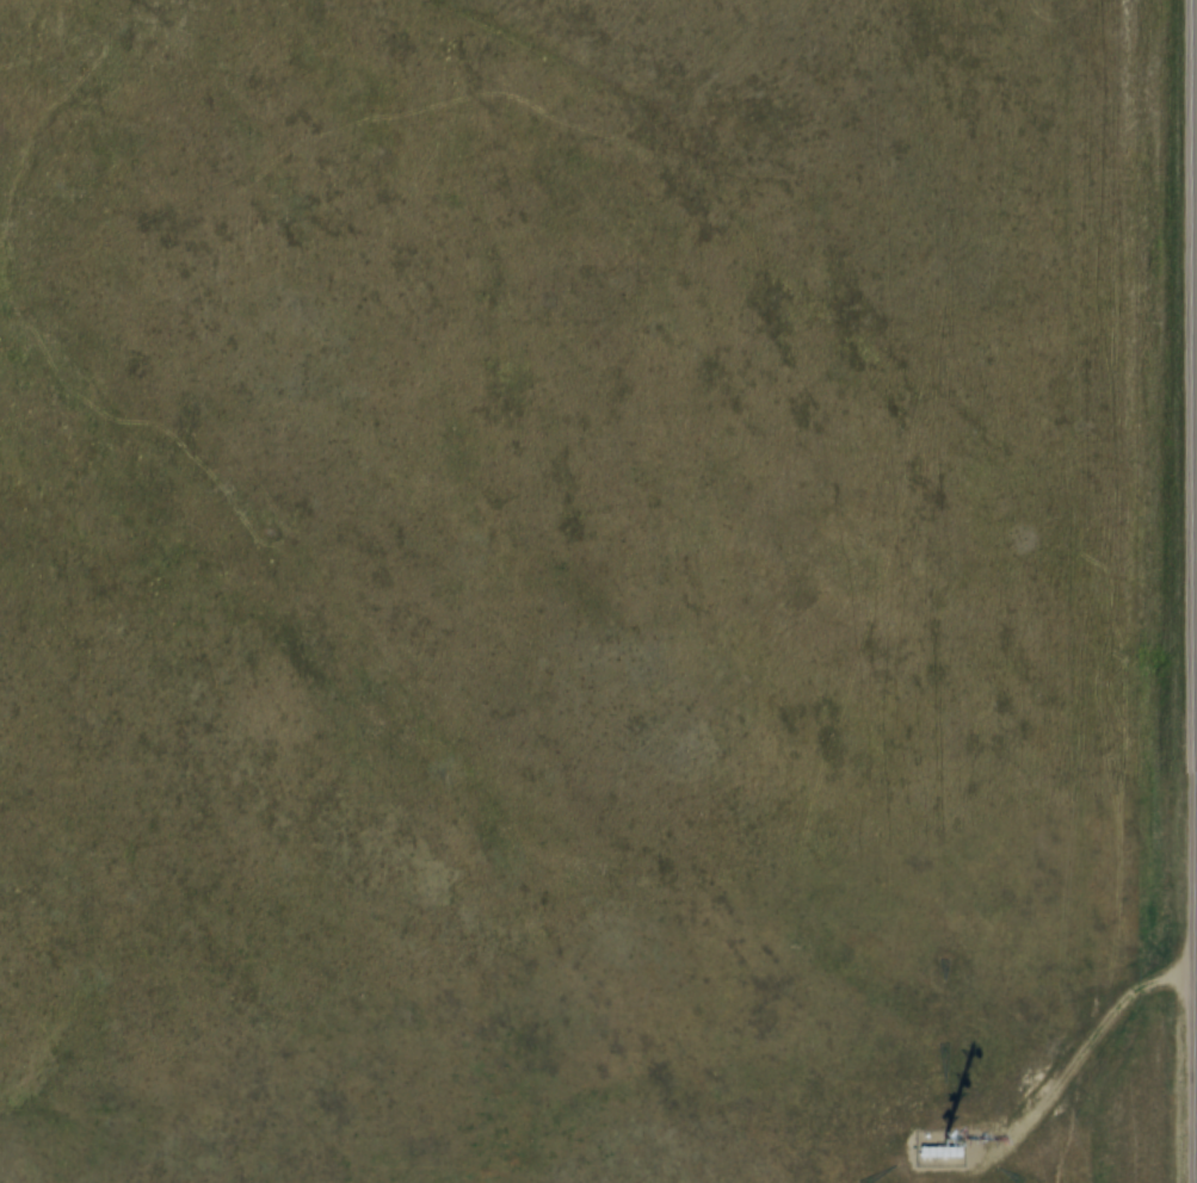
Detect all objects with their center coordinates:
road: (1196, 67)
building: (934, 1153)

